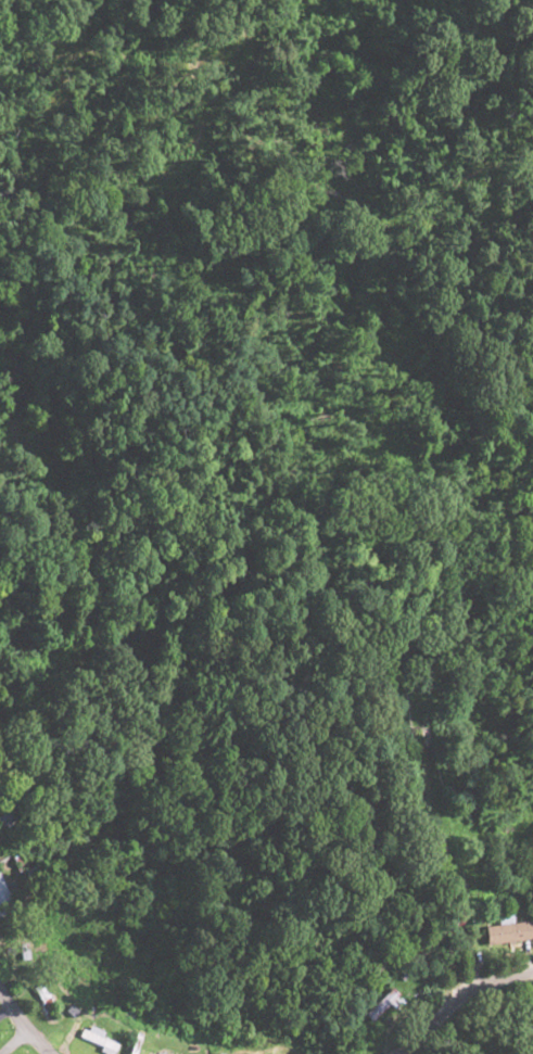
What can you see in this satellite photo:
building: (397, 712)
building: (3, 896)
building: (503, 934)
building: (418, 955)
building: (43, 1002)
building: (377, 1005)
road: (23, 1029)
road: (16, 1044)

